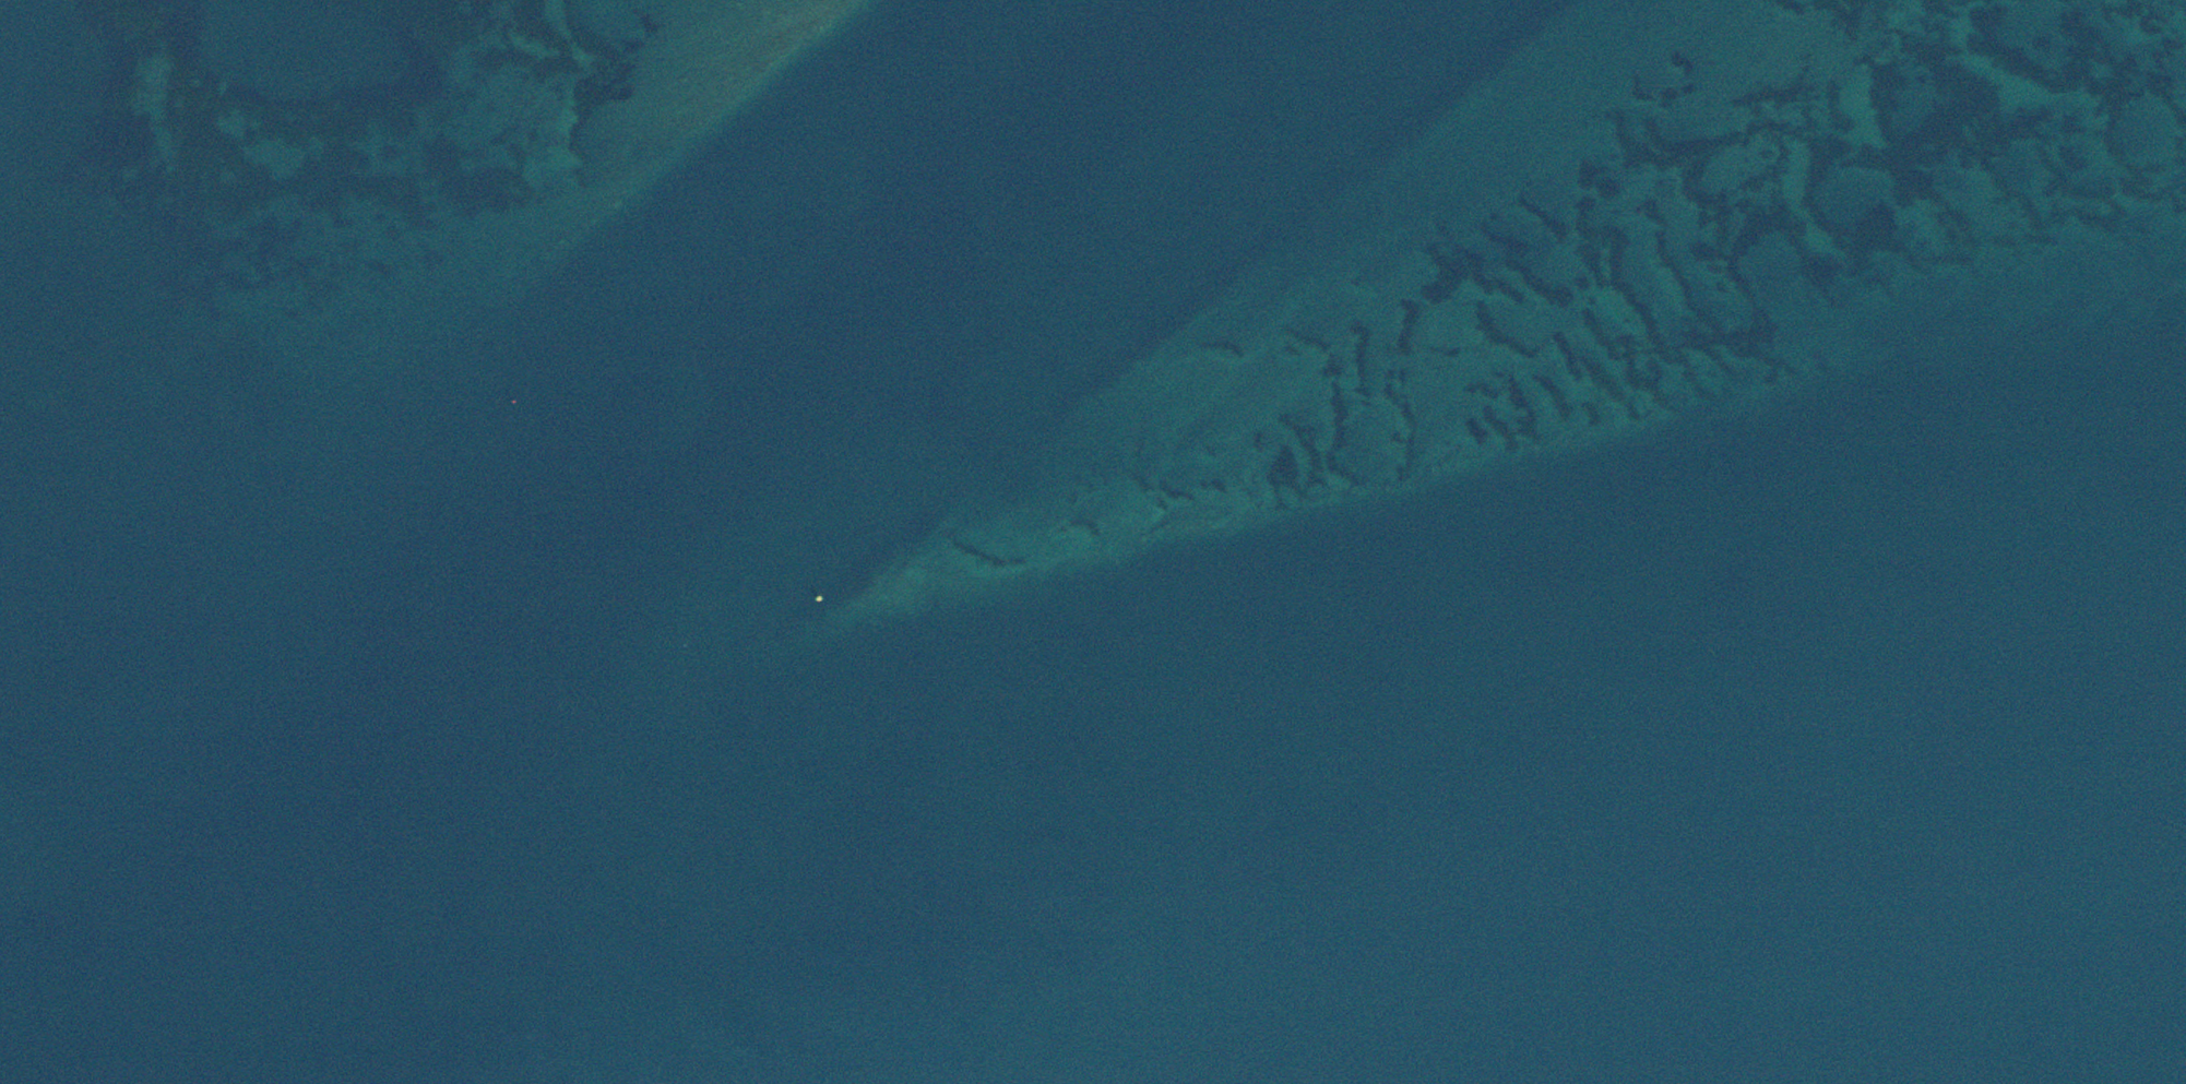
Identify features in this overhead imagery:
river: (2056, 1050)

